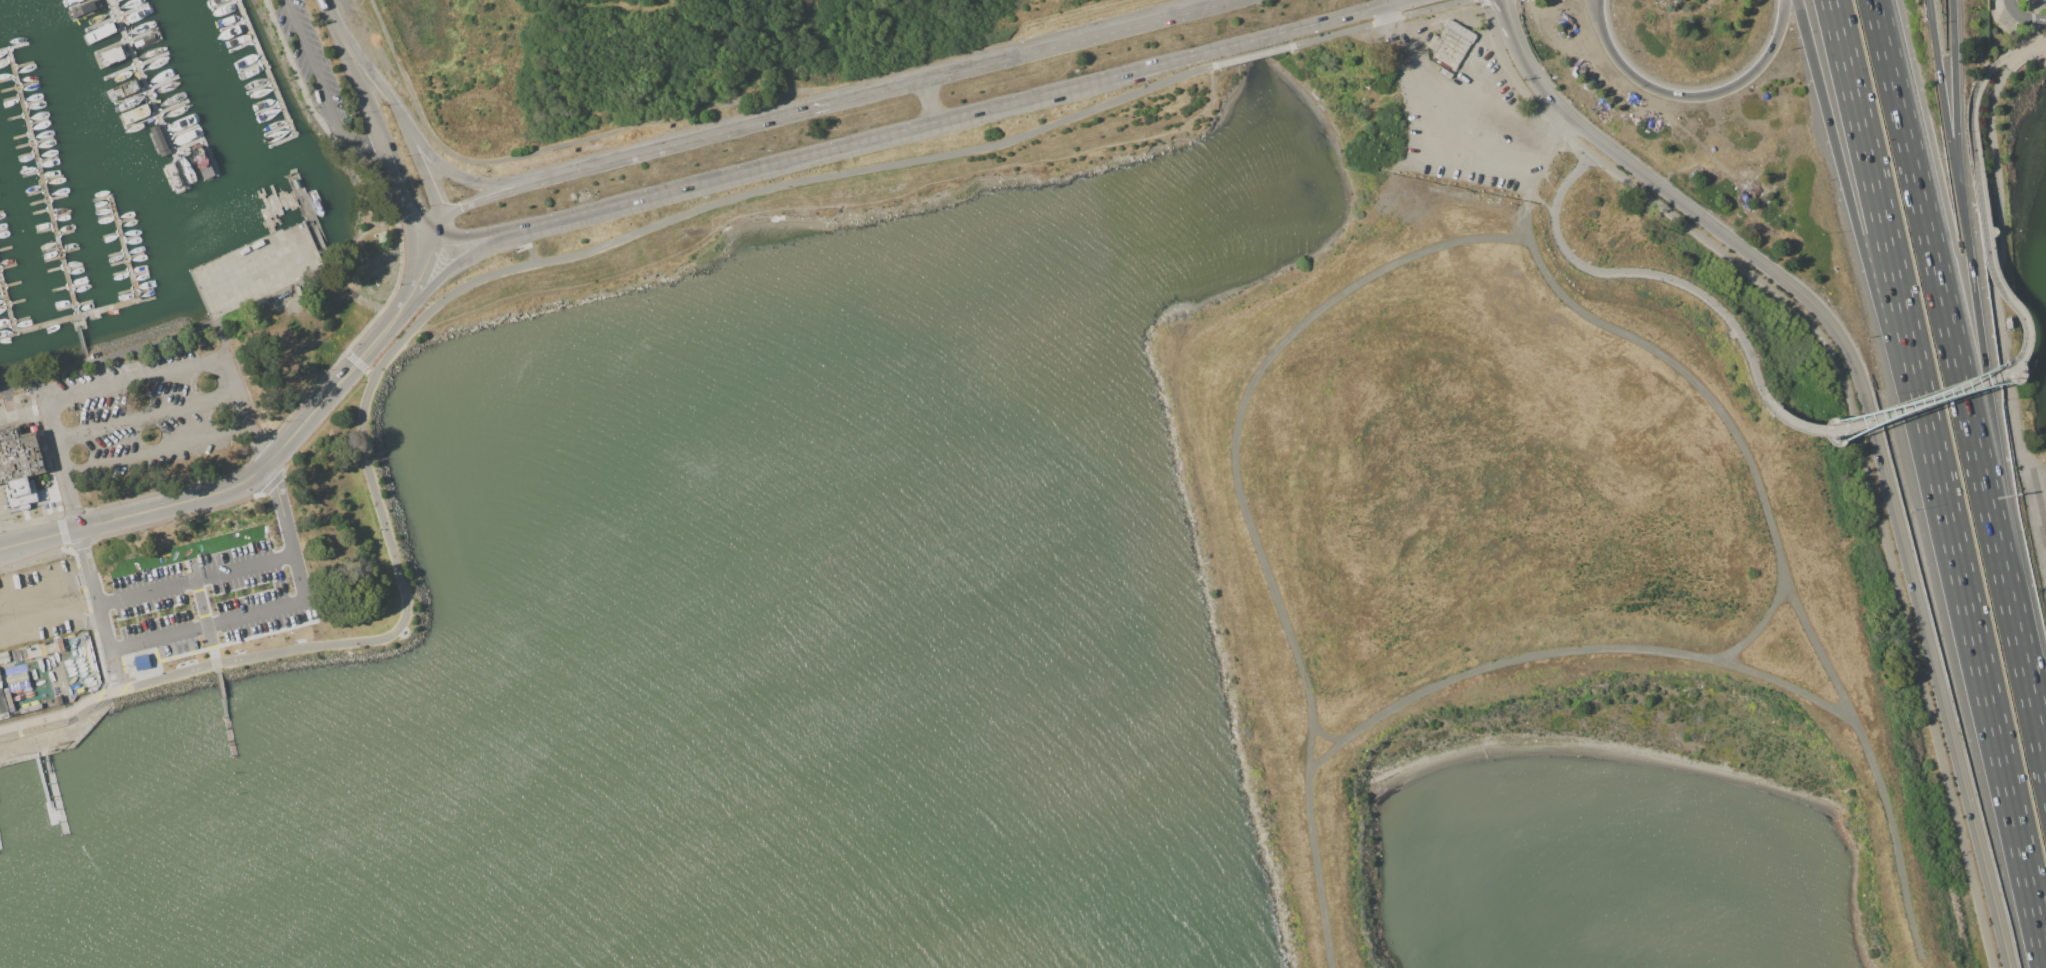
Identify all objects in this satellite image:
road: (1379, 1)
road: (1384, 1)
road: (1503, 7)
road: (324, 10)
road: (2023, 17)
road: (1379, 21)
road: (1597, 24)
road: (1600, 24)
road: (1085, 41)
building: (1450, 43)
road: (2033, 50)
road: (1252, 53)
parking lot: (310, 64)
park: (692, 64)
pier: (266, 67)
road: (319, 88)
road: (926, 89)
pier: (148, 91)
road: (1714, 92)
road: (877, 94)
road: (1465, 95)
road: (390, 97)
road: (927, 97)
road: (1976, 97)
road: (372, 113)
road: (1944, 113)
road: (1954, 113)
parking lot: (1471, 125)
road: (1488, 130)
road: (1455, 134)
road: (678, 140)
pier: (42, 181)
road: (496, 182)
road: (416, 198)
road: (829, 200)
road: (370, 201)
road: (480, 201)
pier: (313, 220)
road: (527, 227)
road: (1541, 230)
road: (473, 244)
road: (2004, 249)
road: (436, 253)
road: (1404, 257)
road: (1935, 266)
park: (2022, 268)
road: (419, 270)
road: (508, 270)
road: (1638, 272)
road: (1894, 273)
road: (431, 274)
road: (1868, 275)
pier: (131, 277)
road: (353, 294)
pier: (18, 330)
road: (219, 337)
pier: (80, 339)
road: (350, 344)
road: (1687, 367)
road: (1988, 375)
road: (133, 376)
road: (341, 377)
road: (1985, 378)
road: (44, 388)
road: (233, 389)
road: (1856, 412)
parking lot: (154, 416)
road: (145, 417)
road: (1871, 421)
road: (257, 443)
road: (155, 452)
road: (61, 464)
building: (20, 465)
road: (2034, 506)
road: (136, 511)
park: (1546, 522)
park: (188, 549)
road: (82, 572)
road: (194, 579)
road: (37, 584)
road: (92, 588)
parking lot: (213, 596)
road: (69, 597)
parking lot: (39, 601)
road: (277, 609)
road: (93, 613)
road: (206, 621)
road: (44, 626)
road: (2021, 644)
building: (44, 648)
building: (3, 656)
building: (141, 662)
road: (112, 670)
building: (16, 676)
road: (1788, 678)
road: (1406, 694)
building: (57, 698)
building: (8, 699)
building: (3, 705)
building: (29, 707)
road: (57, 711)
pier: (229, 728)
road: (63, 731)
road: (1322, 751)
road: (2000, 754)
road: (1872, 763)
pier: (55, 786)
road: (1310, 838)

